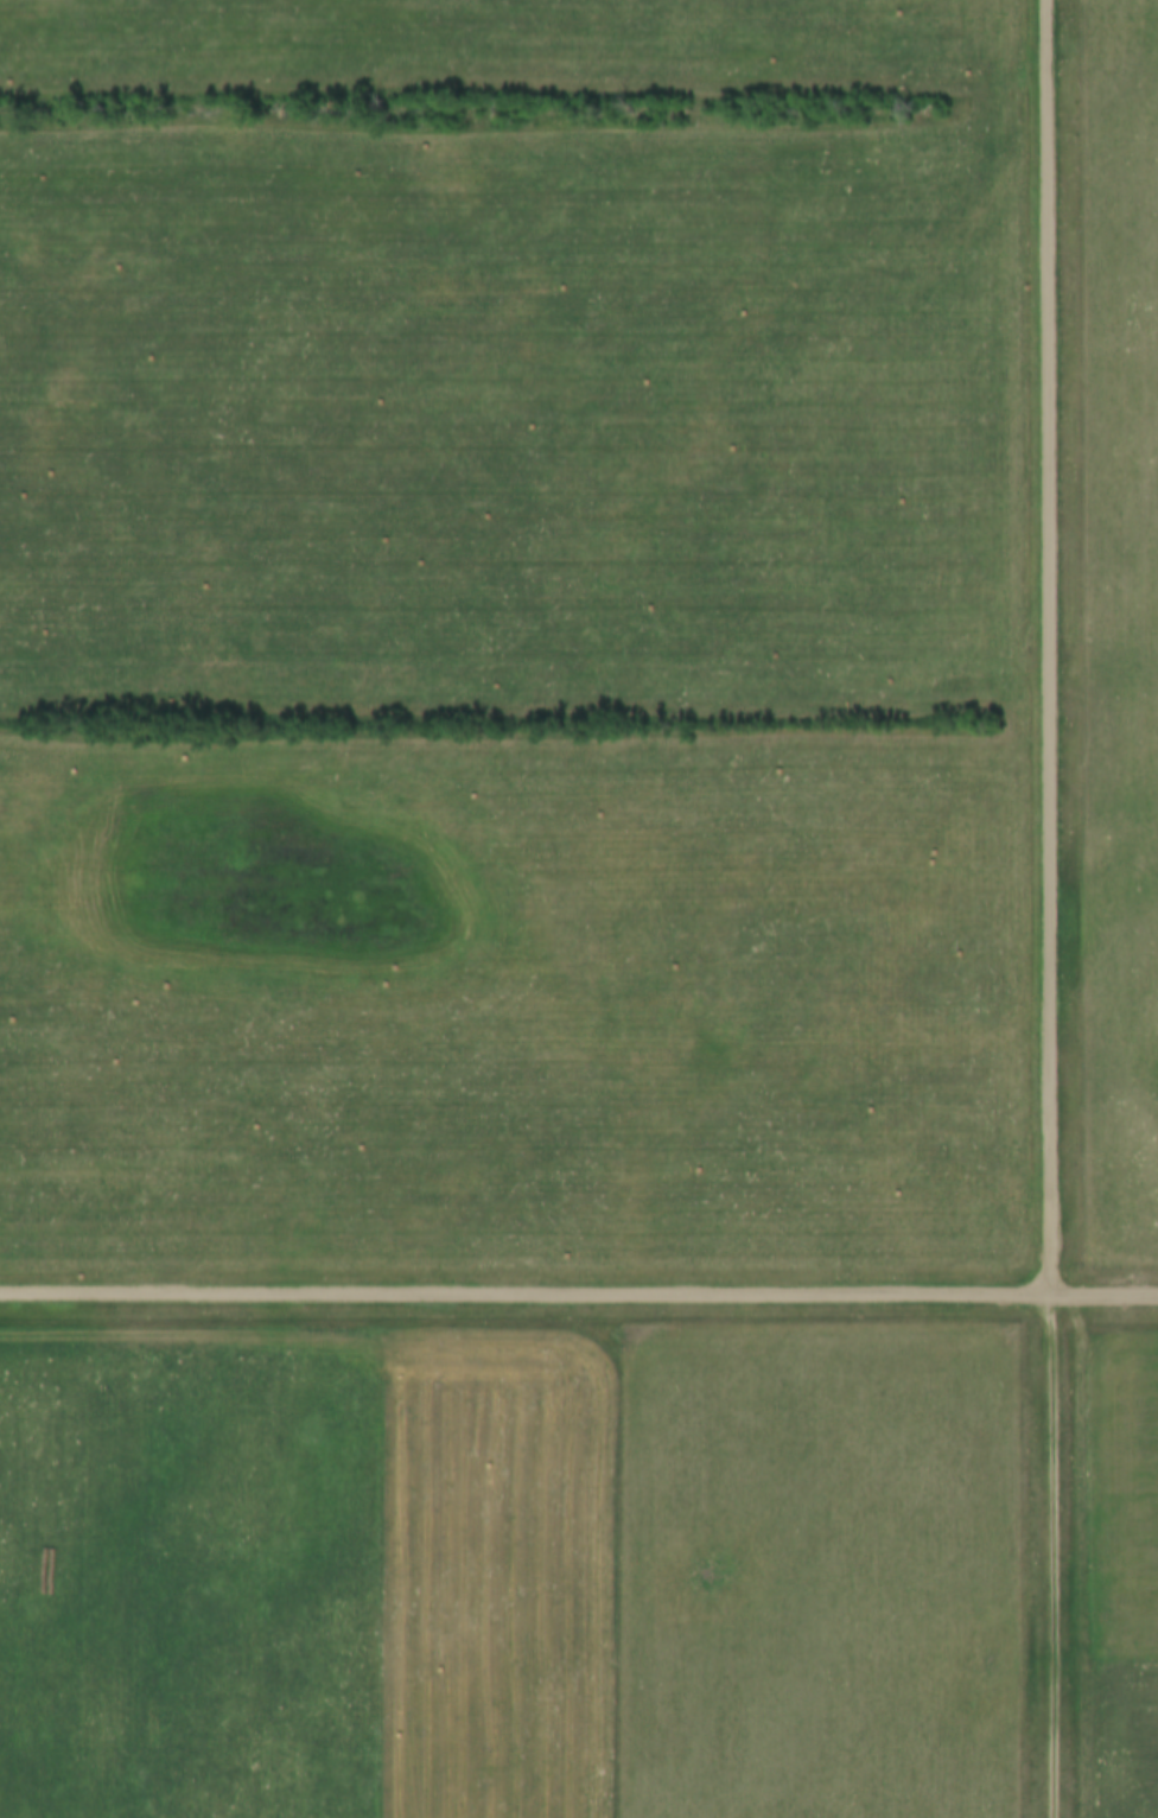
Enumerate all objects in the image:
road: (1048, 648)
road: (579, 1293)
road: (1052, 1556)

